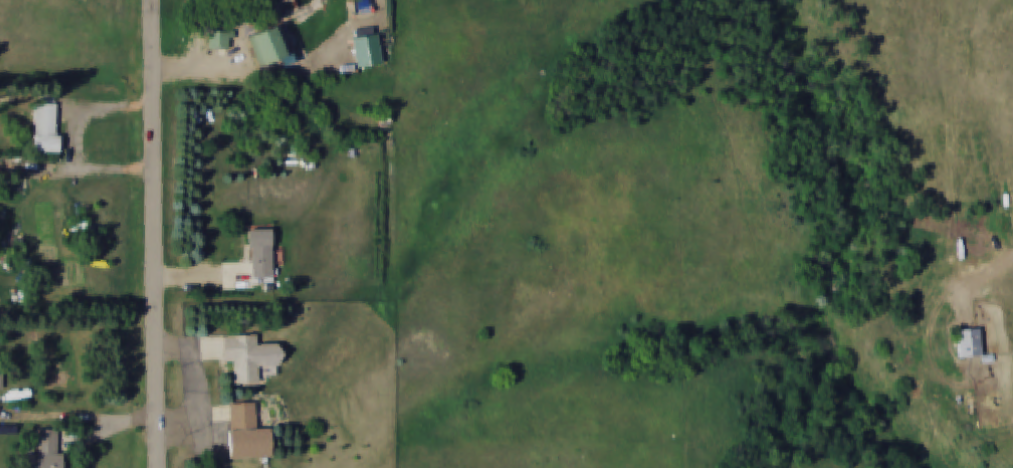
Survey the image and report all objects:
building: (218, 40)
building: (267, 46)
building: (366, 51)
building: (47, 128)
road: (73, 140)
road: (154, 234)
building: (261, 256)
building: (969, 343)
building: (249, 357)
building: (1, 378)
building: (246, 433)
building: (45, 451)

